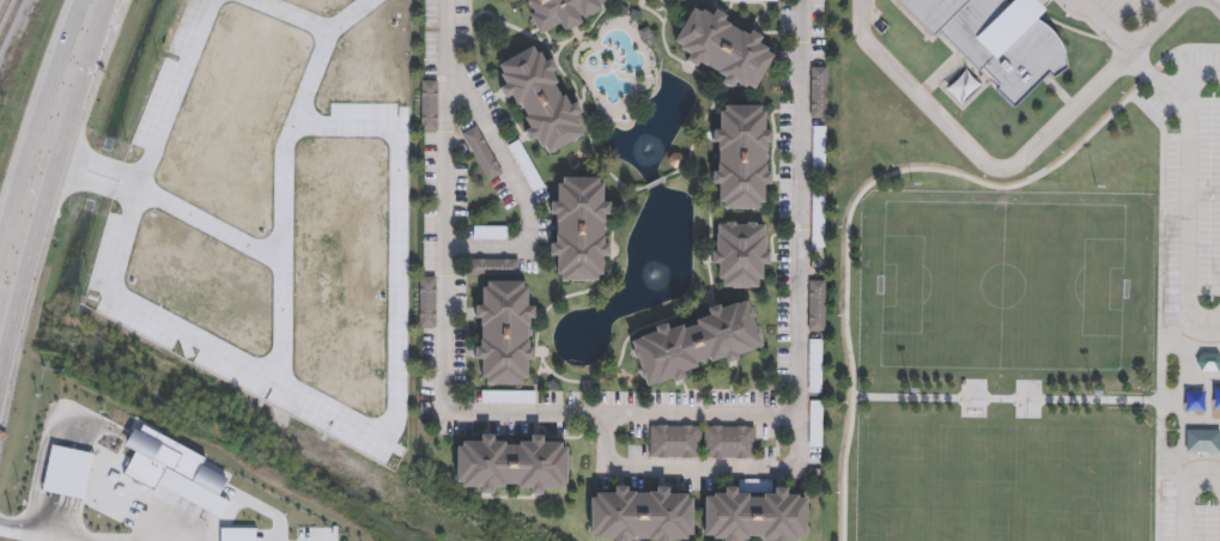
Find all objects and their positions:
road: (614, 1)
road: (743, 1)
road: (642, 4)
road: (1215, 4)
railway: (4, 10)
parking lot: (1128, 10)
building: (560, 11)
road: (657, 11)
road: (603, 12)
road: (765, 12)
road: (1155, 12)
railway: (10, 20)
road: (1100, 30)
road: (83, 38)
building: (995, 39)
building: (722, 47)
road: (557, 53)
road: (565, 75)
road: (712, 84)
road: (1155, 85)
road: (172, 95)
building: (538, 99)
building: (429, 103)
fountain: (645, 151)
building: (481, 152)
building: (739, 156)
road: (1014, 171)
road: (887, 177)
parking lot: (1191, 177)
road: (656, 184)
street lamp: (910, 184)
road: (520, 186)
street lamp: (1094, 186)
road: (32, 188)
road: (1184, 202)
building: (577, 229)
road: (289, 242)
building: (739, 254)
park: (1049, 260)
building: (492, 268)
park: (1015, 270)
fountain: (651, 280)
building: (426, 302)
building: (815, 305)
road: (1, 306)
road: (1160, 311)
park: (902, 316)
building: (502, 332)
building: (694, 342)
building: (1208, 360)
road: (544, 372)
road: (600, 379)
road: (536, 387)
street lamp: (909, 391)
street lamp: (1092, 393)
road: (1004, 400)
road: (624, 415)
building: (702, 440)
building: (1200, 445)
building: (508, 464)
road: (702, 469)
park: (1006, 485)
road: (1178, 488)
building: (638, 516)
building: (753, 516)
road: (35, 529)

